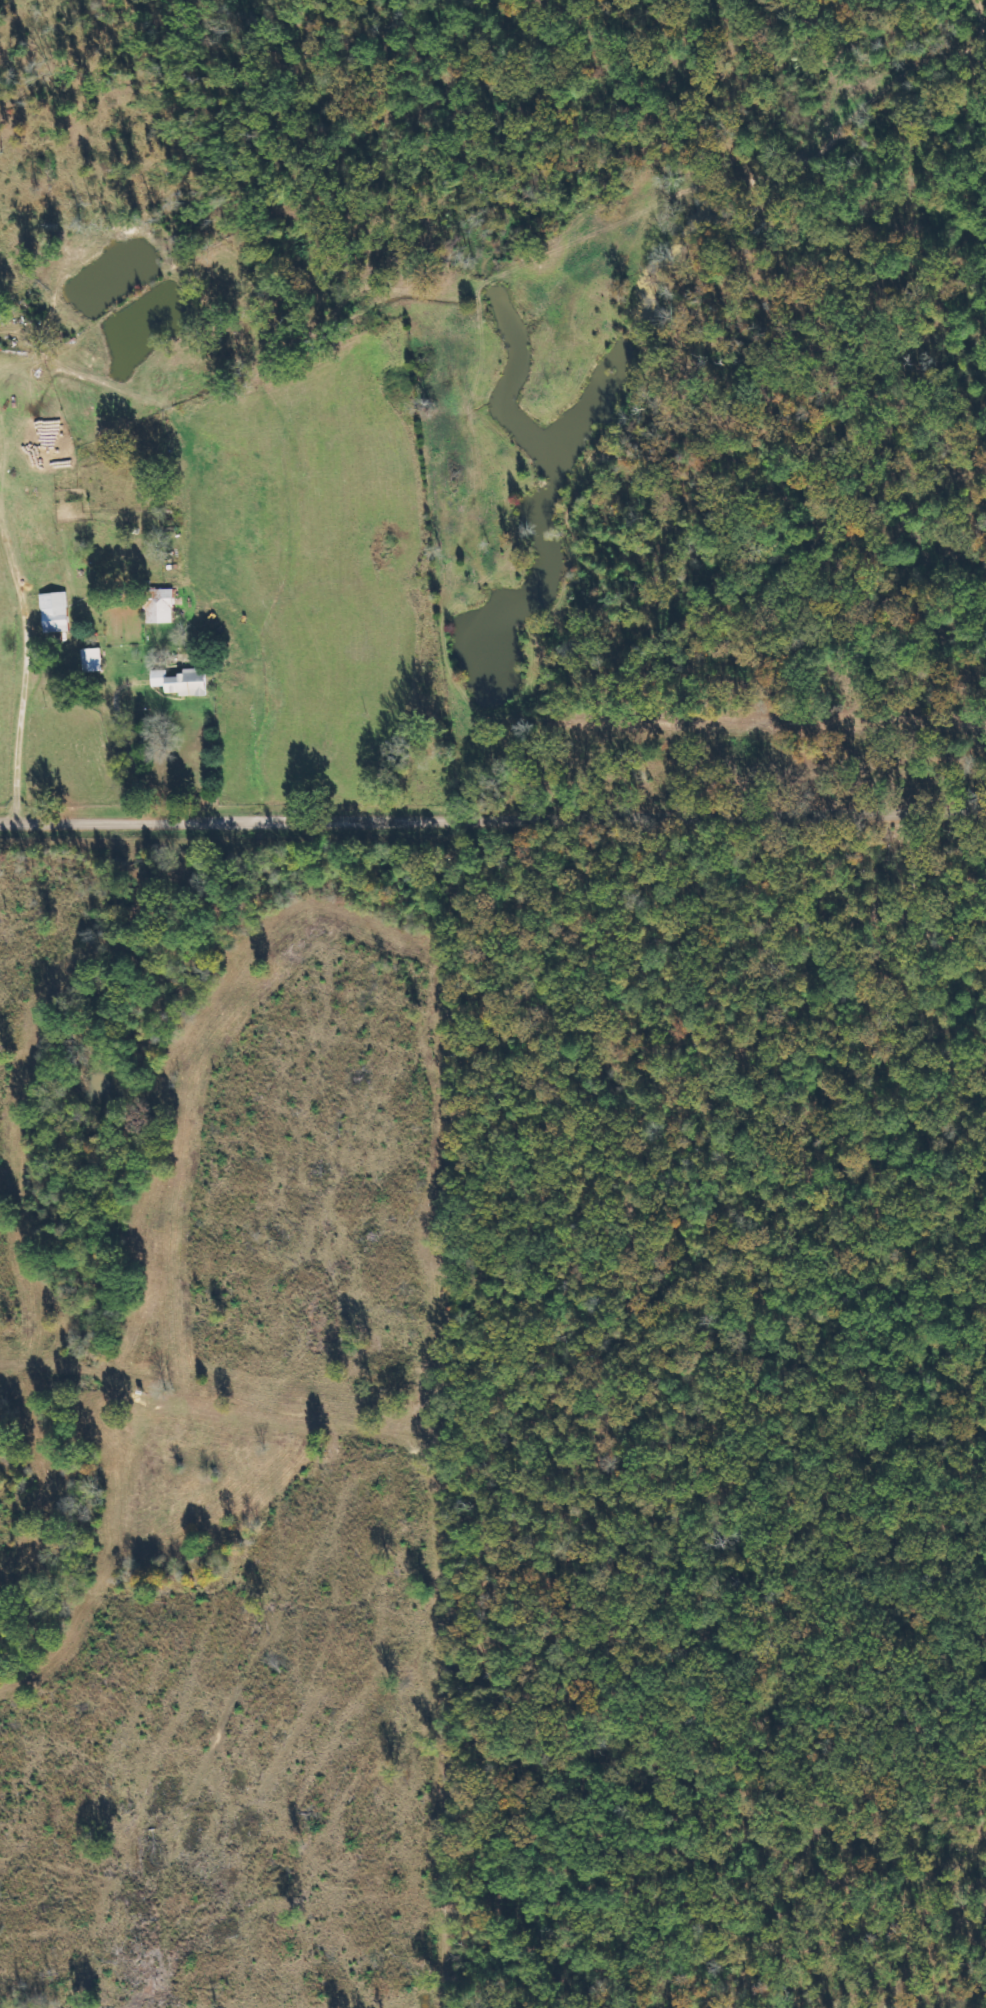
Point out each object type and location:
building: (163, 608)
building: (56, 612)
building: (184, 682)
road: (492, 817)

